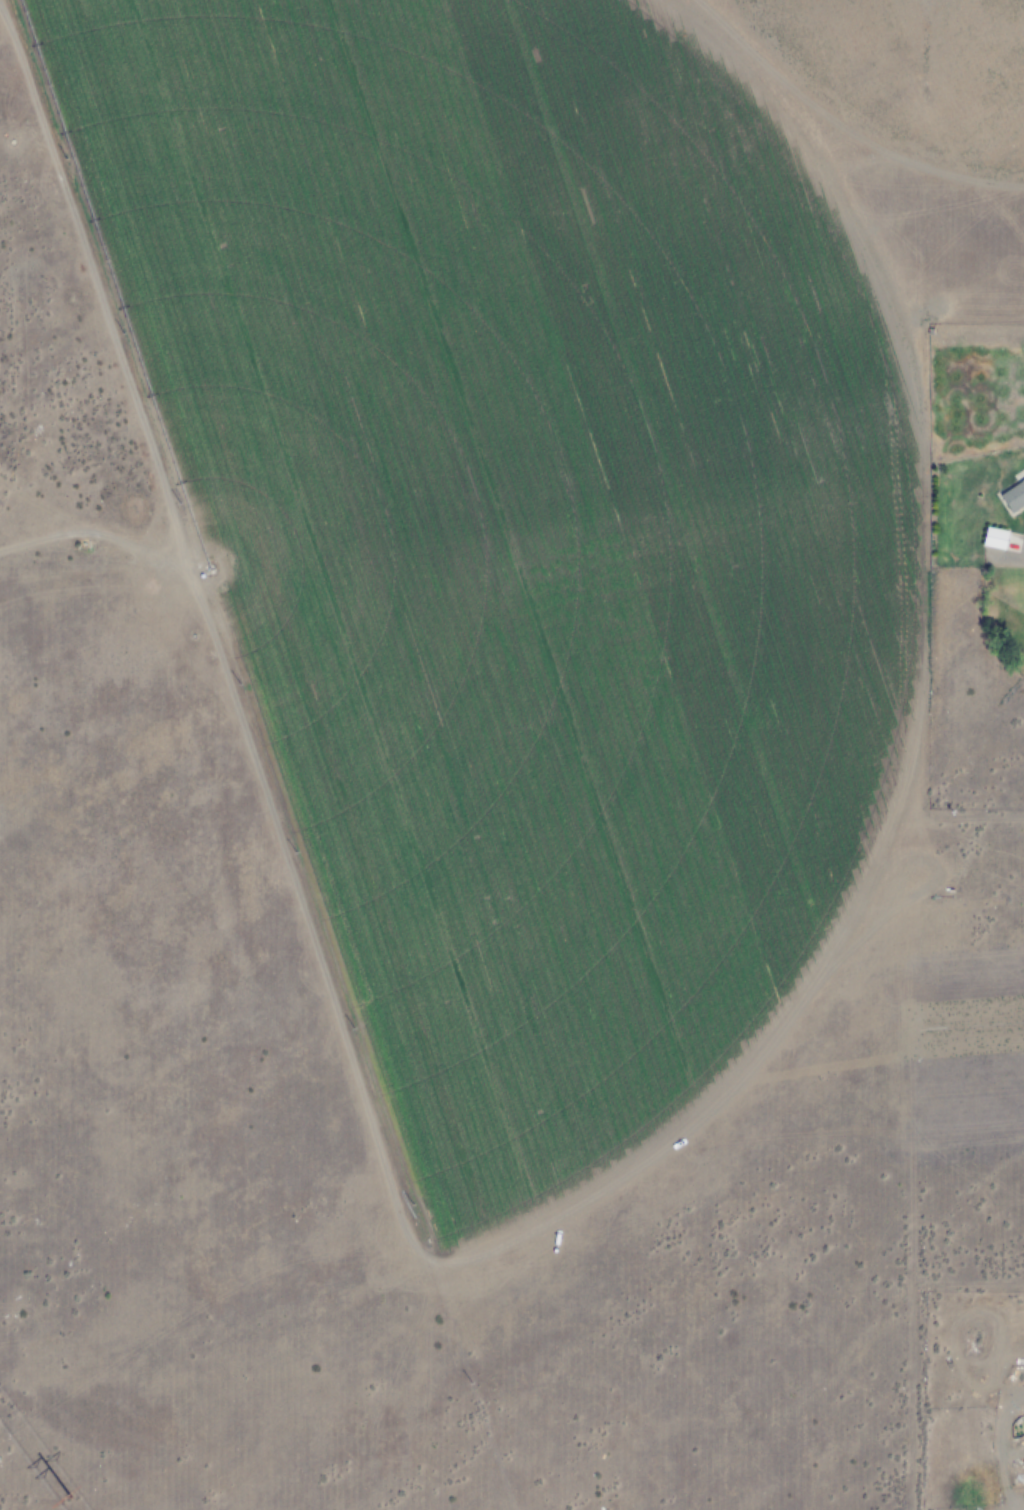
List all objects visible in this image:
building: (1013, 496)
building: (993, 538)
power tower: (66, 1496)

